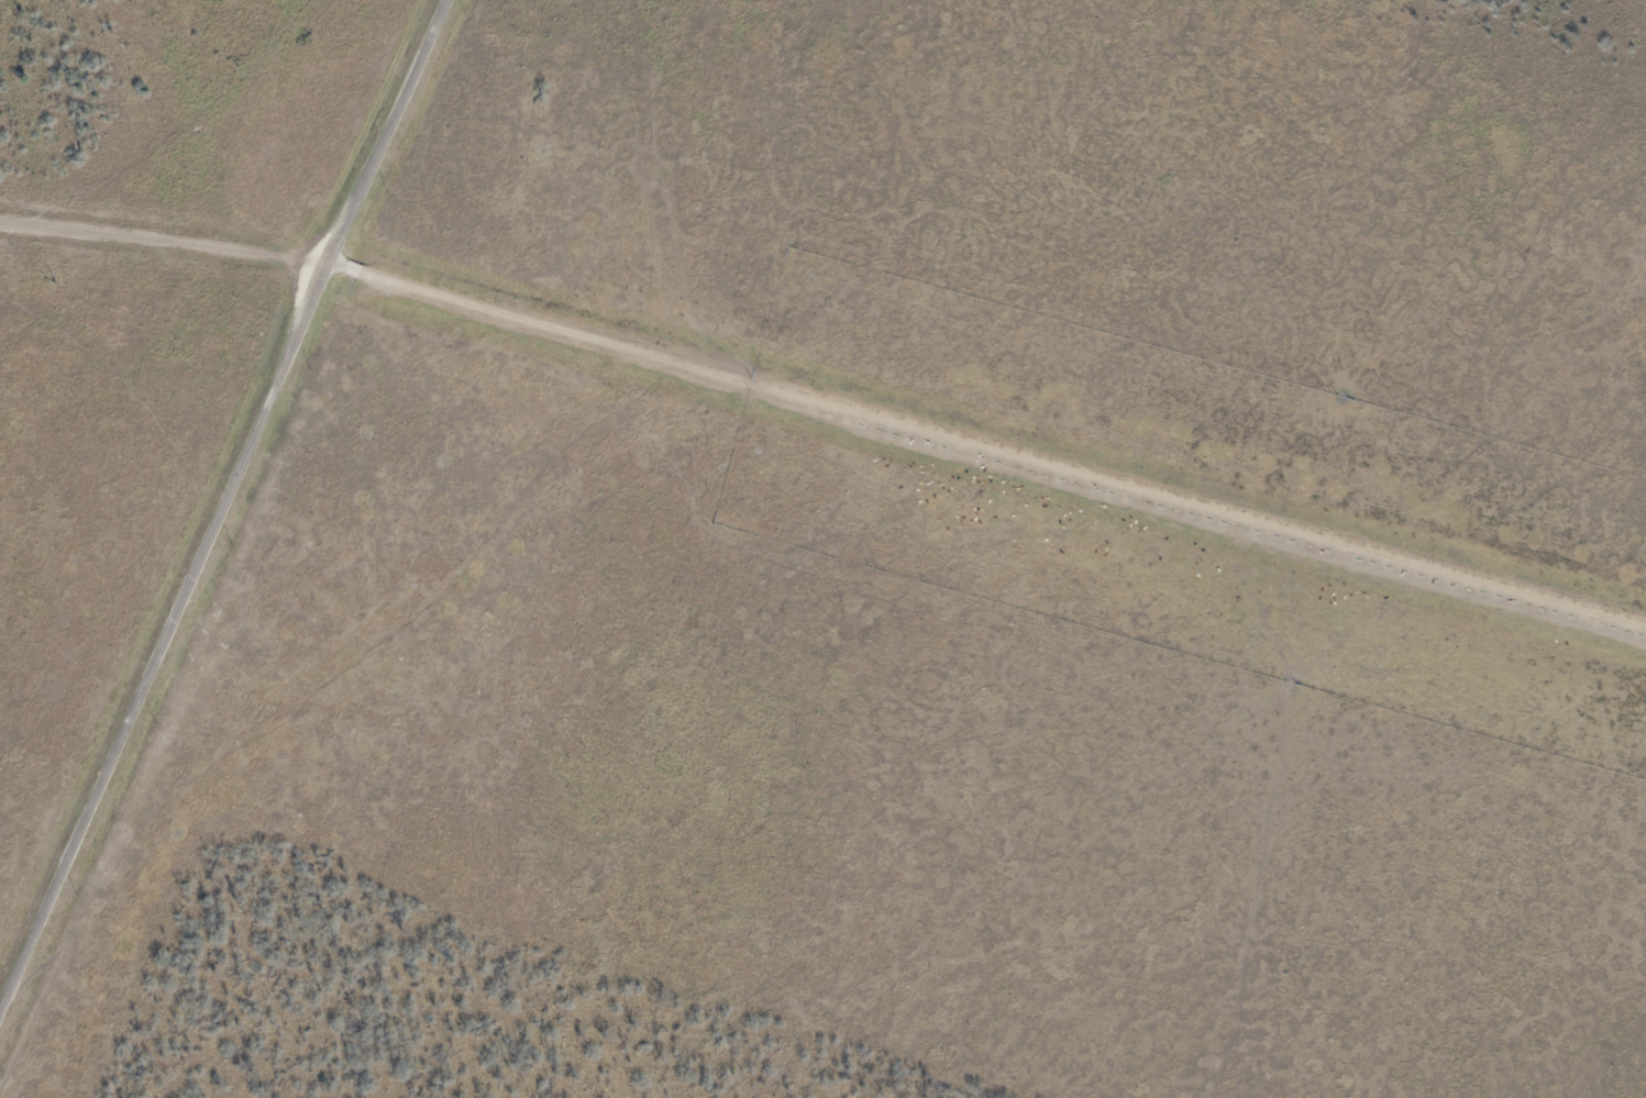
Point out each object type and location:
road: (984, 448)
road: (222, 504)

